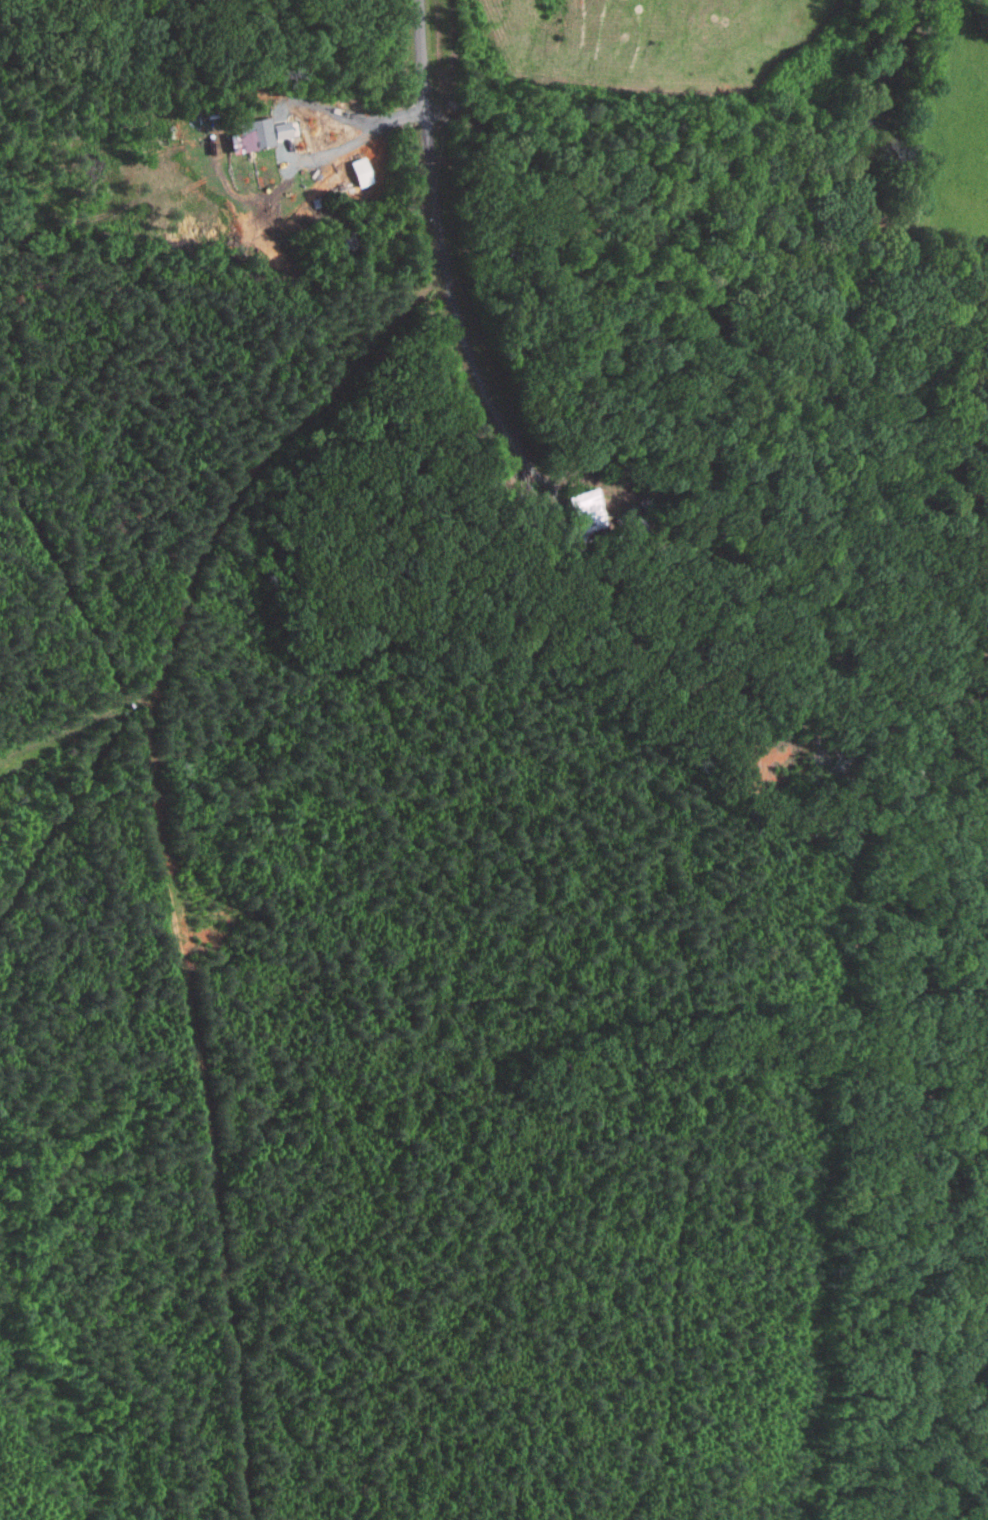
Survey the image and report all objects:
road: (319, 124)
building: (246, 137)
road: (433, 217)

